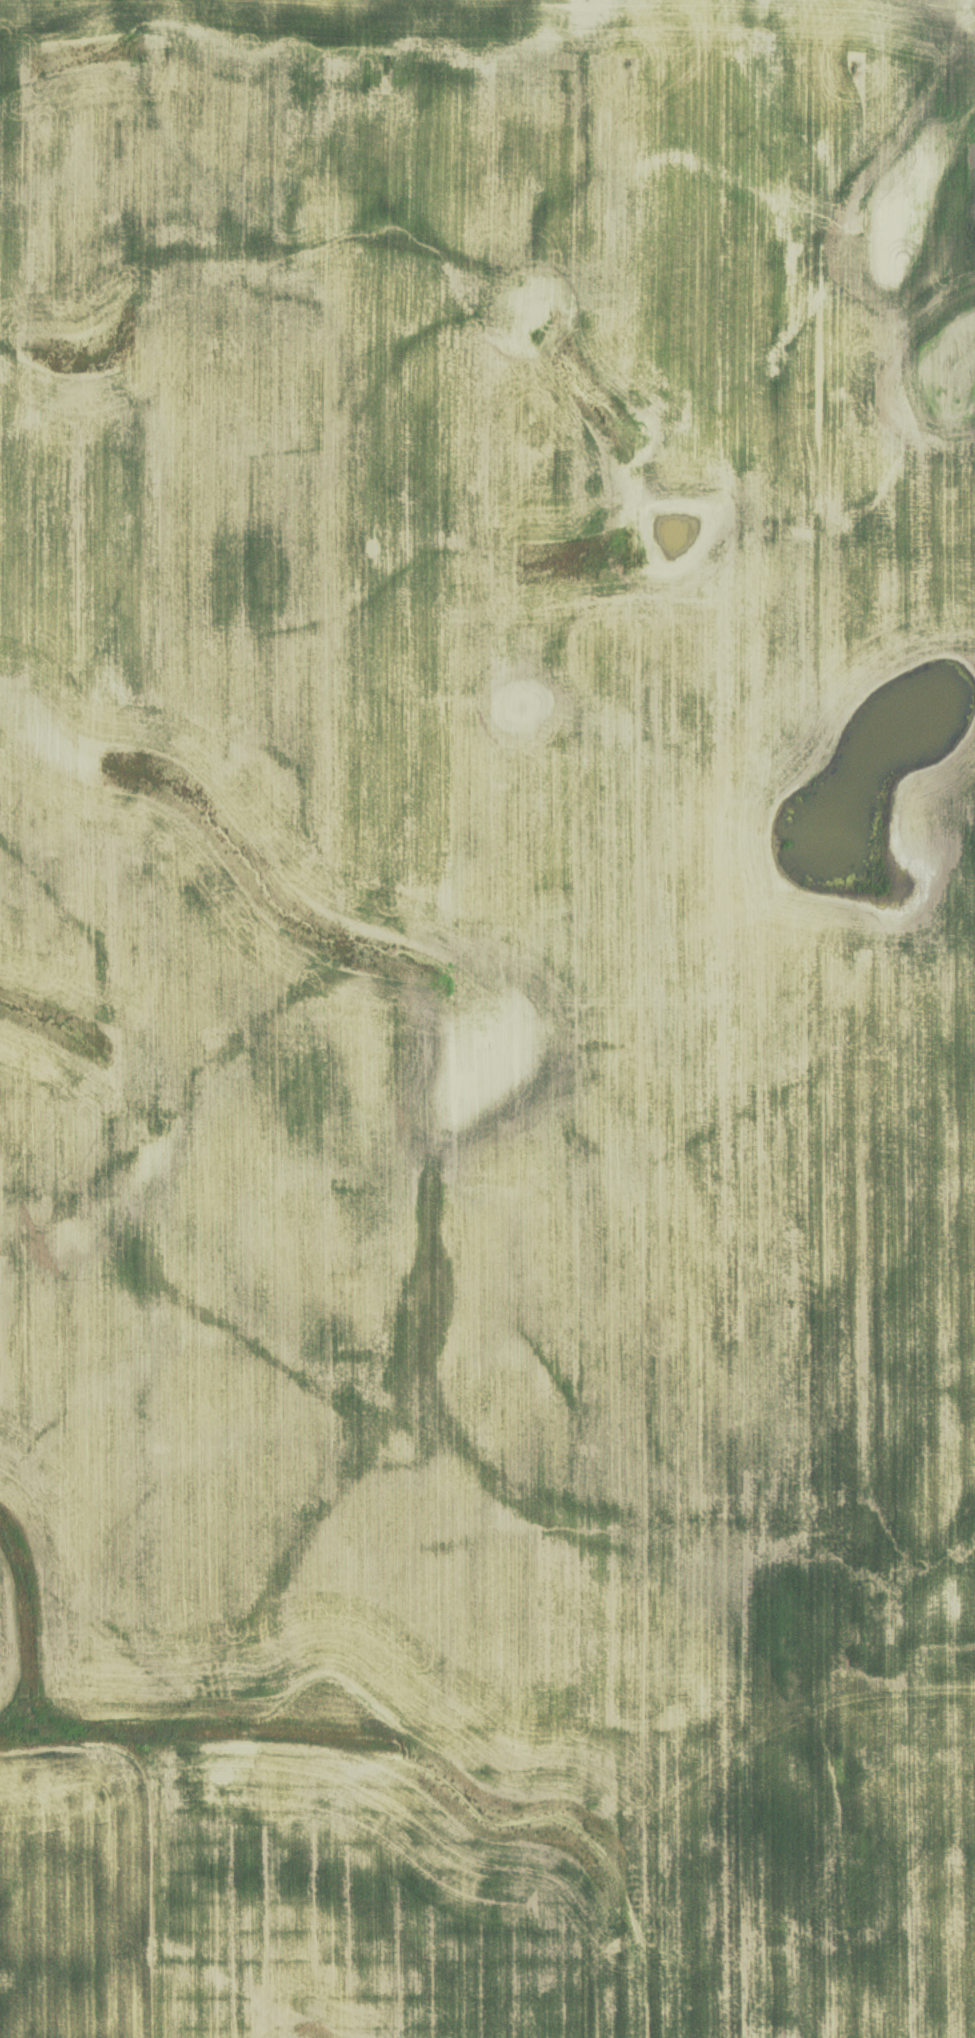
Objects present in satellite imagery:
crop: (482, 869)
crop: (482, 1886)

